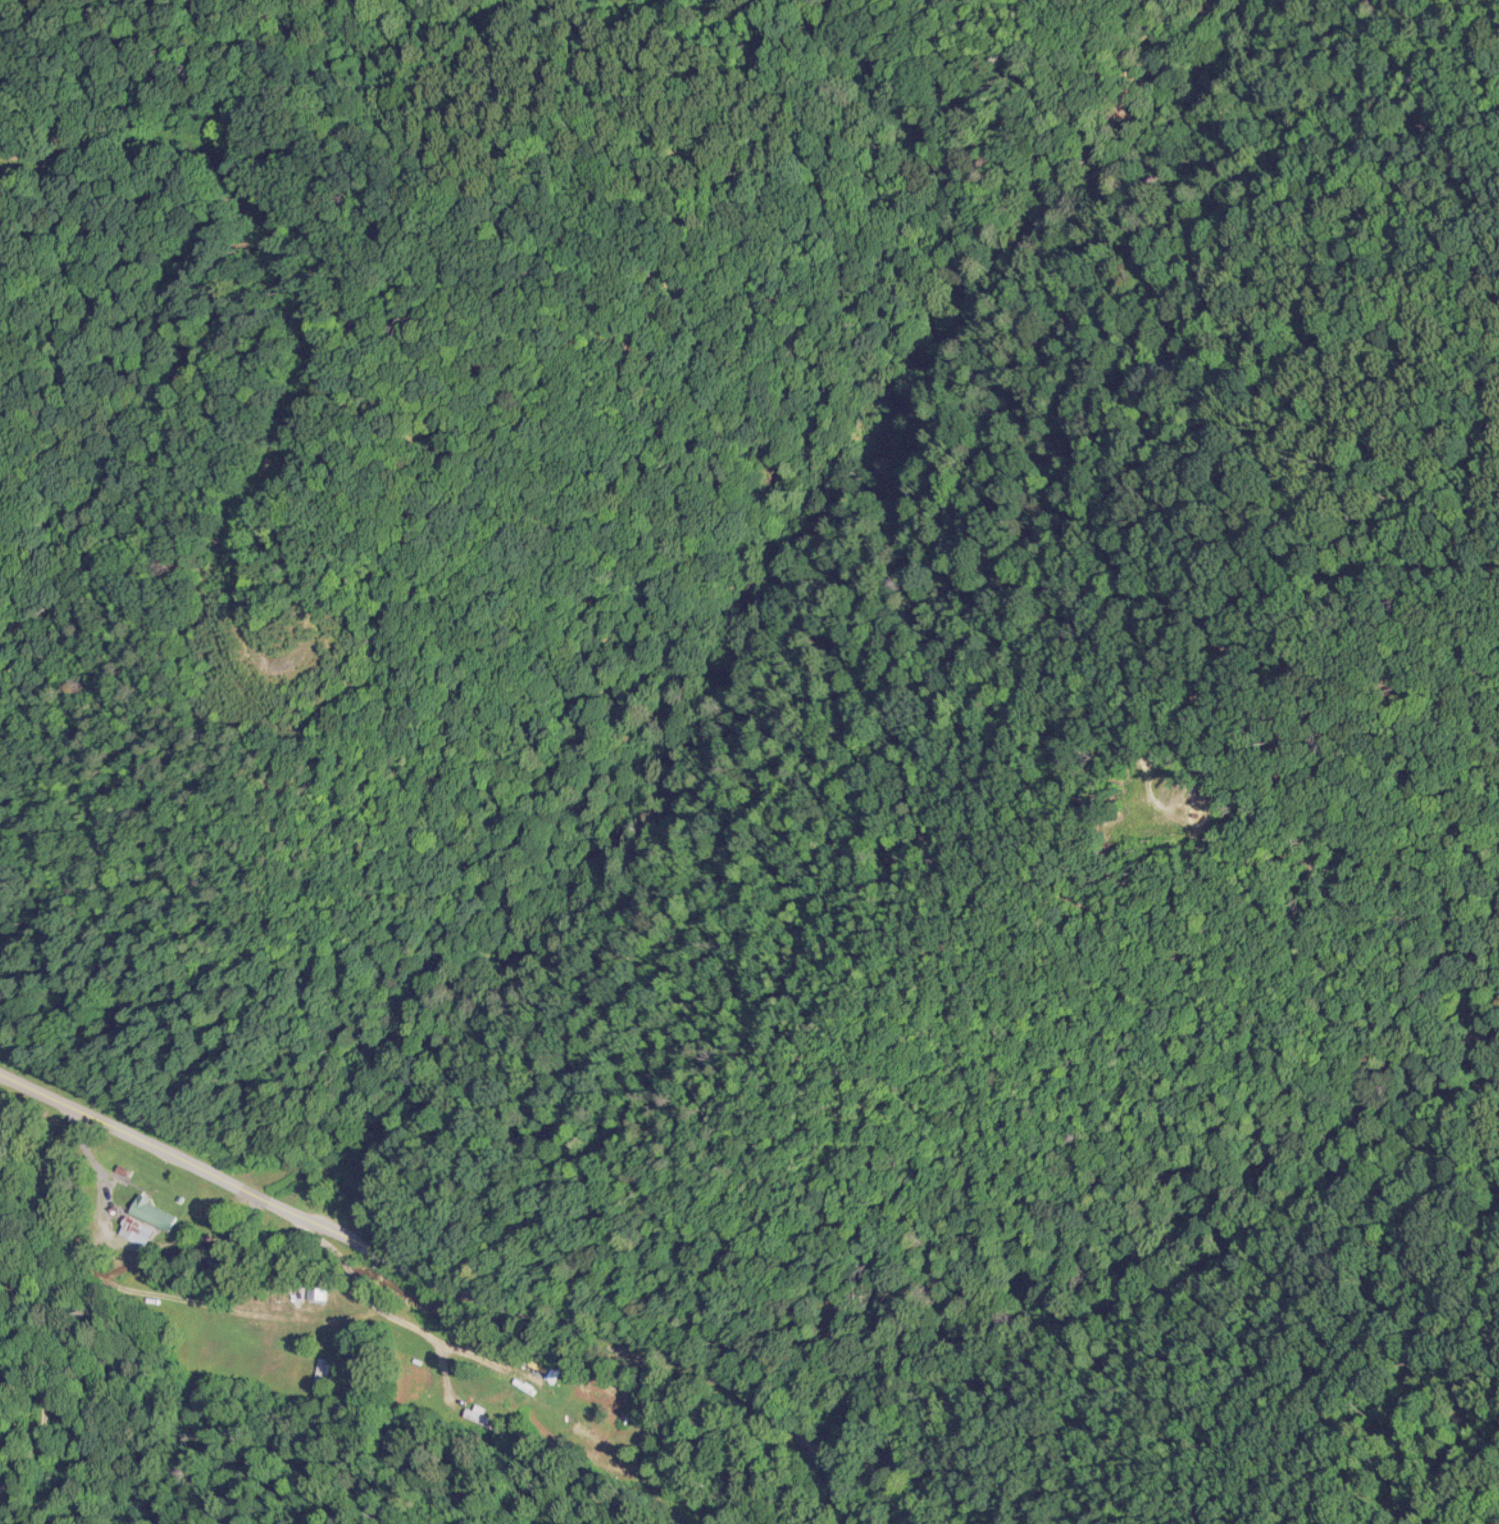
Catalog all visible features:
building: (151, 1213)
building: (133, 1233)
road: (450, 1282)
road: (1161, 1288)
road: (64, 1380)

